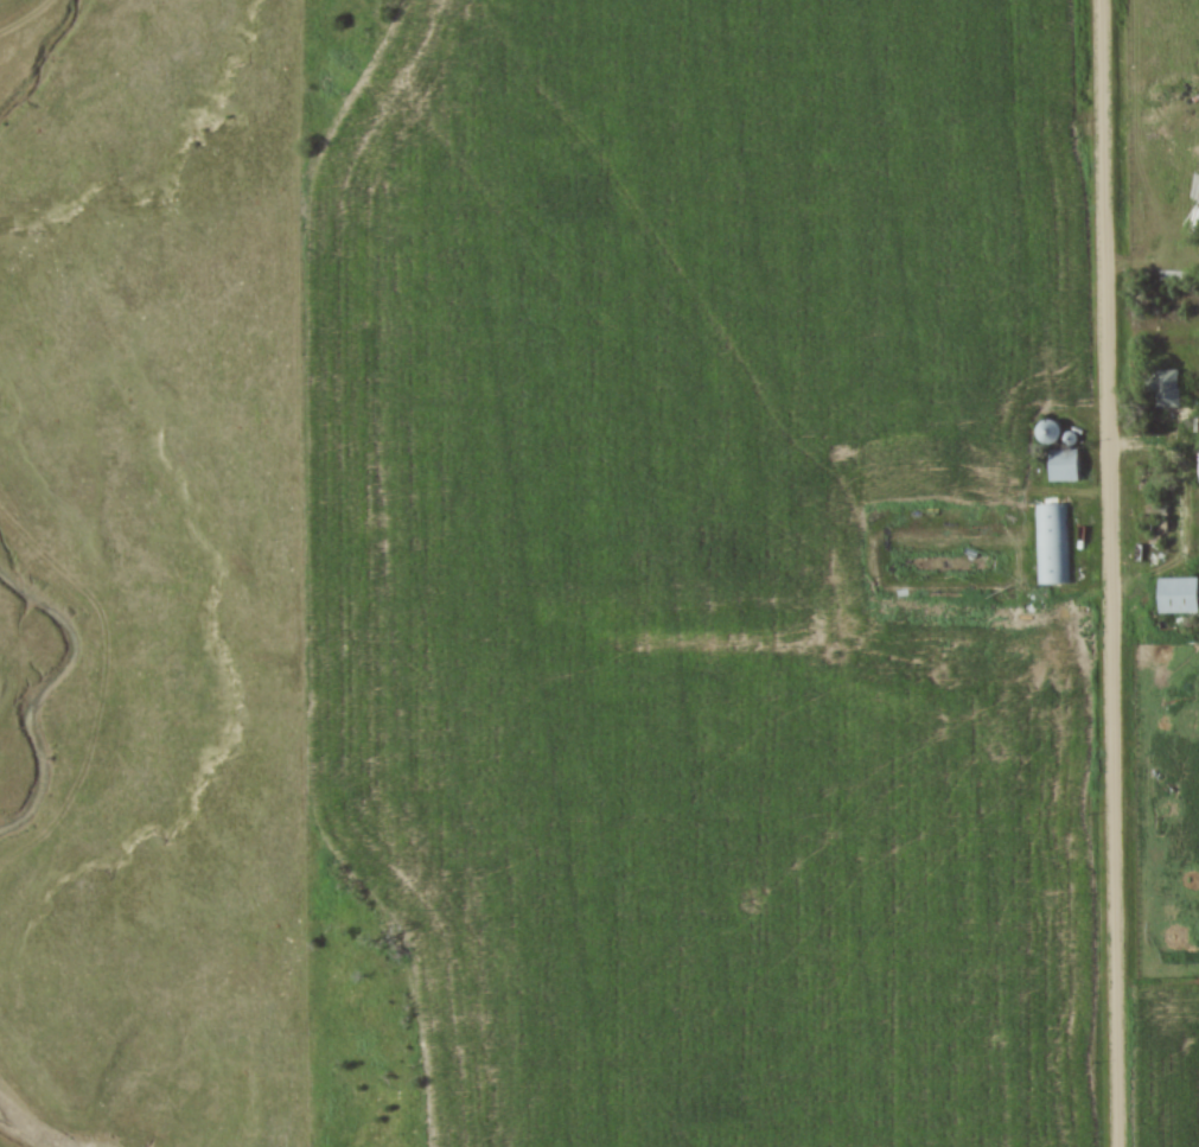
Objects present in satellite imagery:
building: (1167, 391)
road: (1192, 496)
building: (1051, 546)
road: (1112, 573)
building: (1180, 597)

